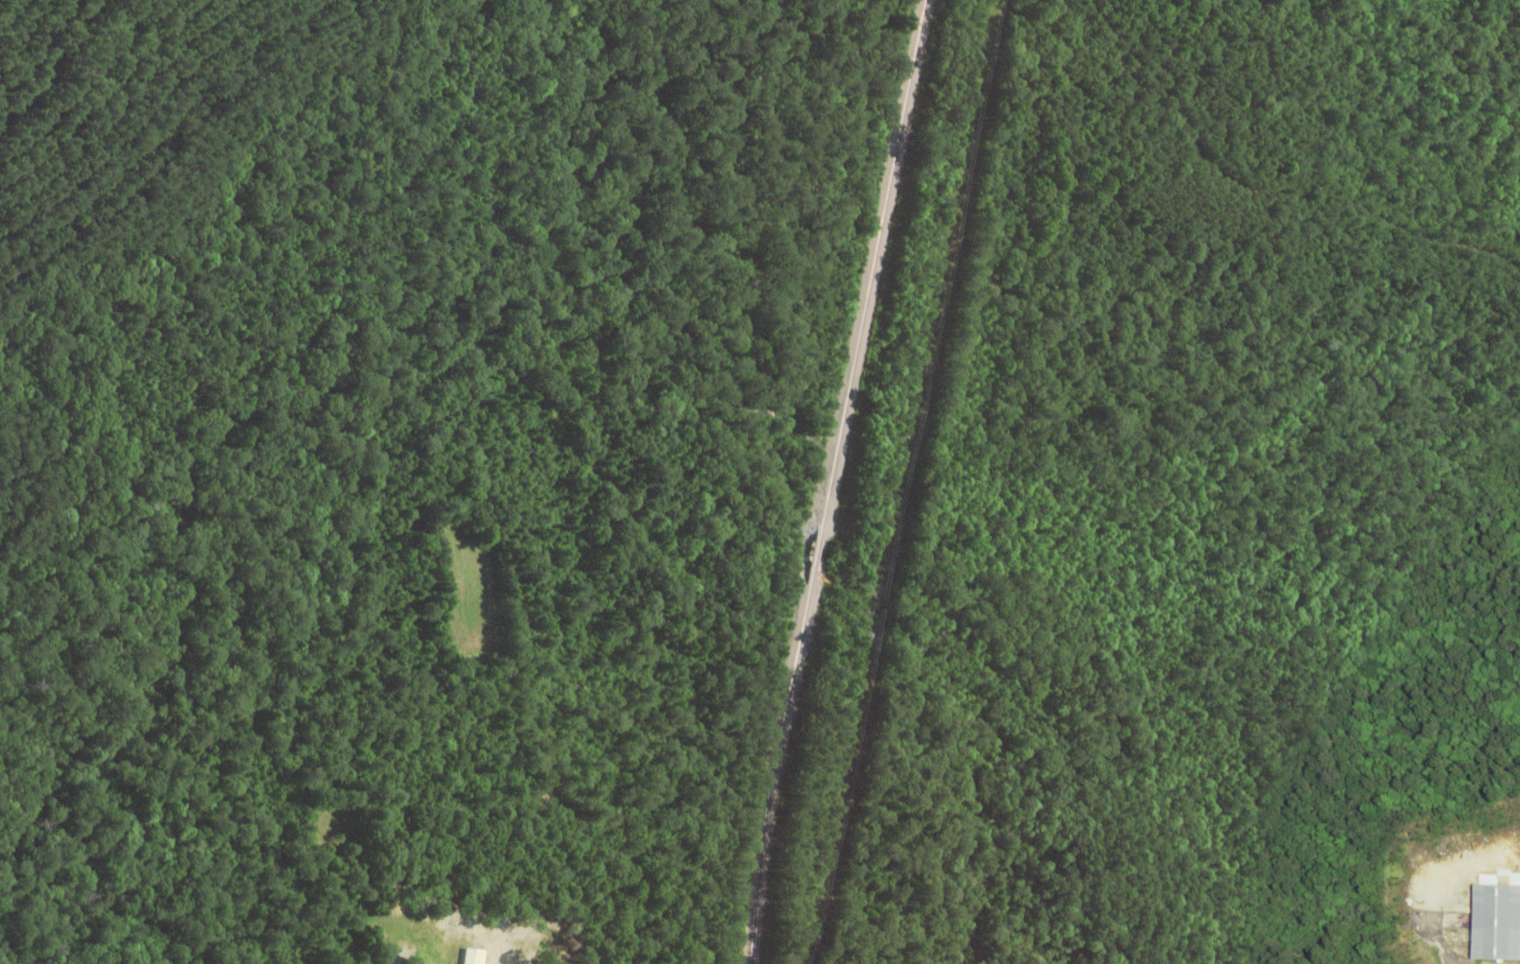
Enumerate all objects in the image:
railway: (831, 480)
building: (1494, 920)
building: (468, 956)

